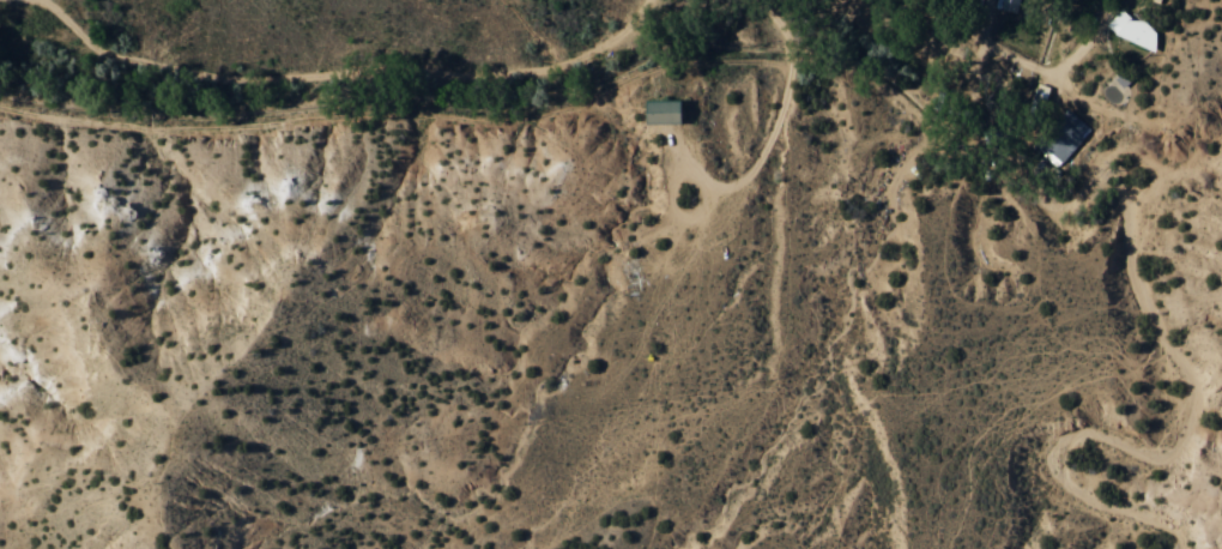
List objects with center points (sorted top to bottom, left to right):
road: (927, 4)
building: (1131, 29)
building: (654, 110)
building: (1060, 135)

